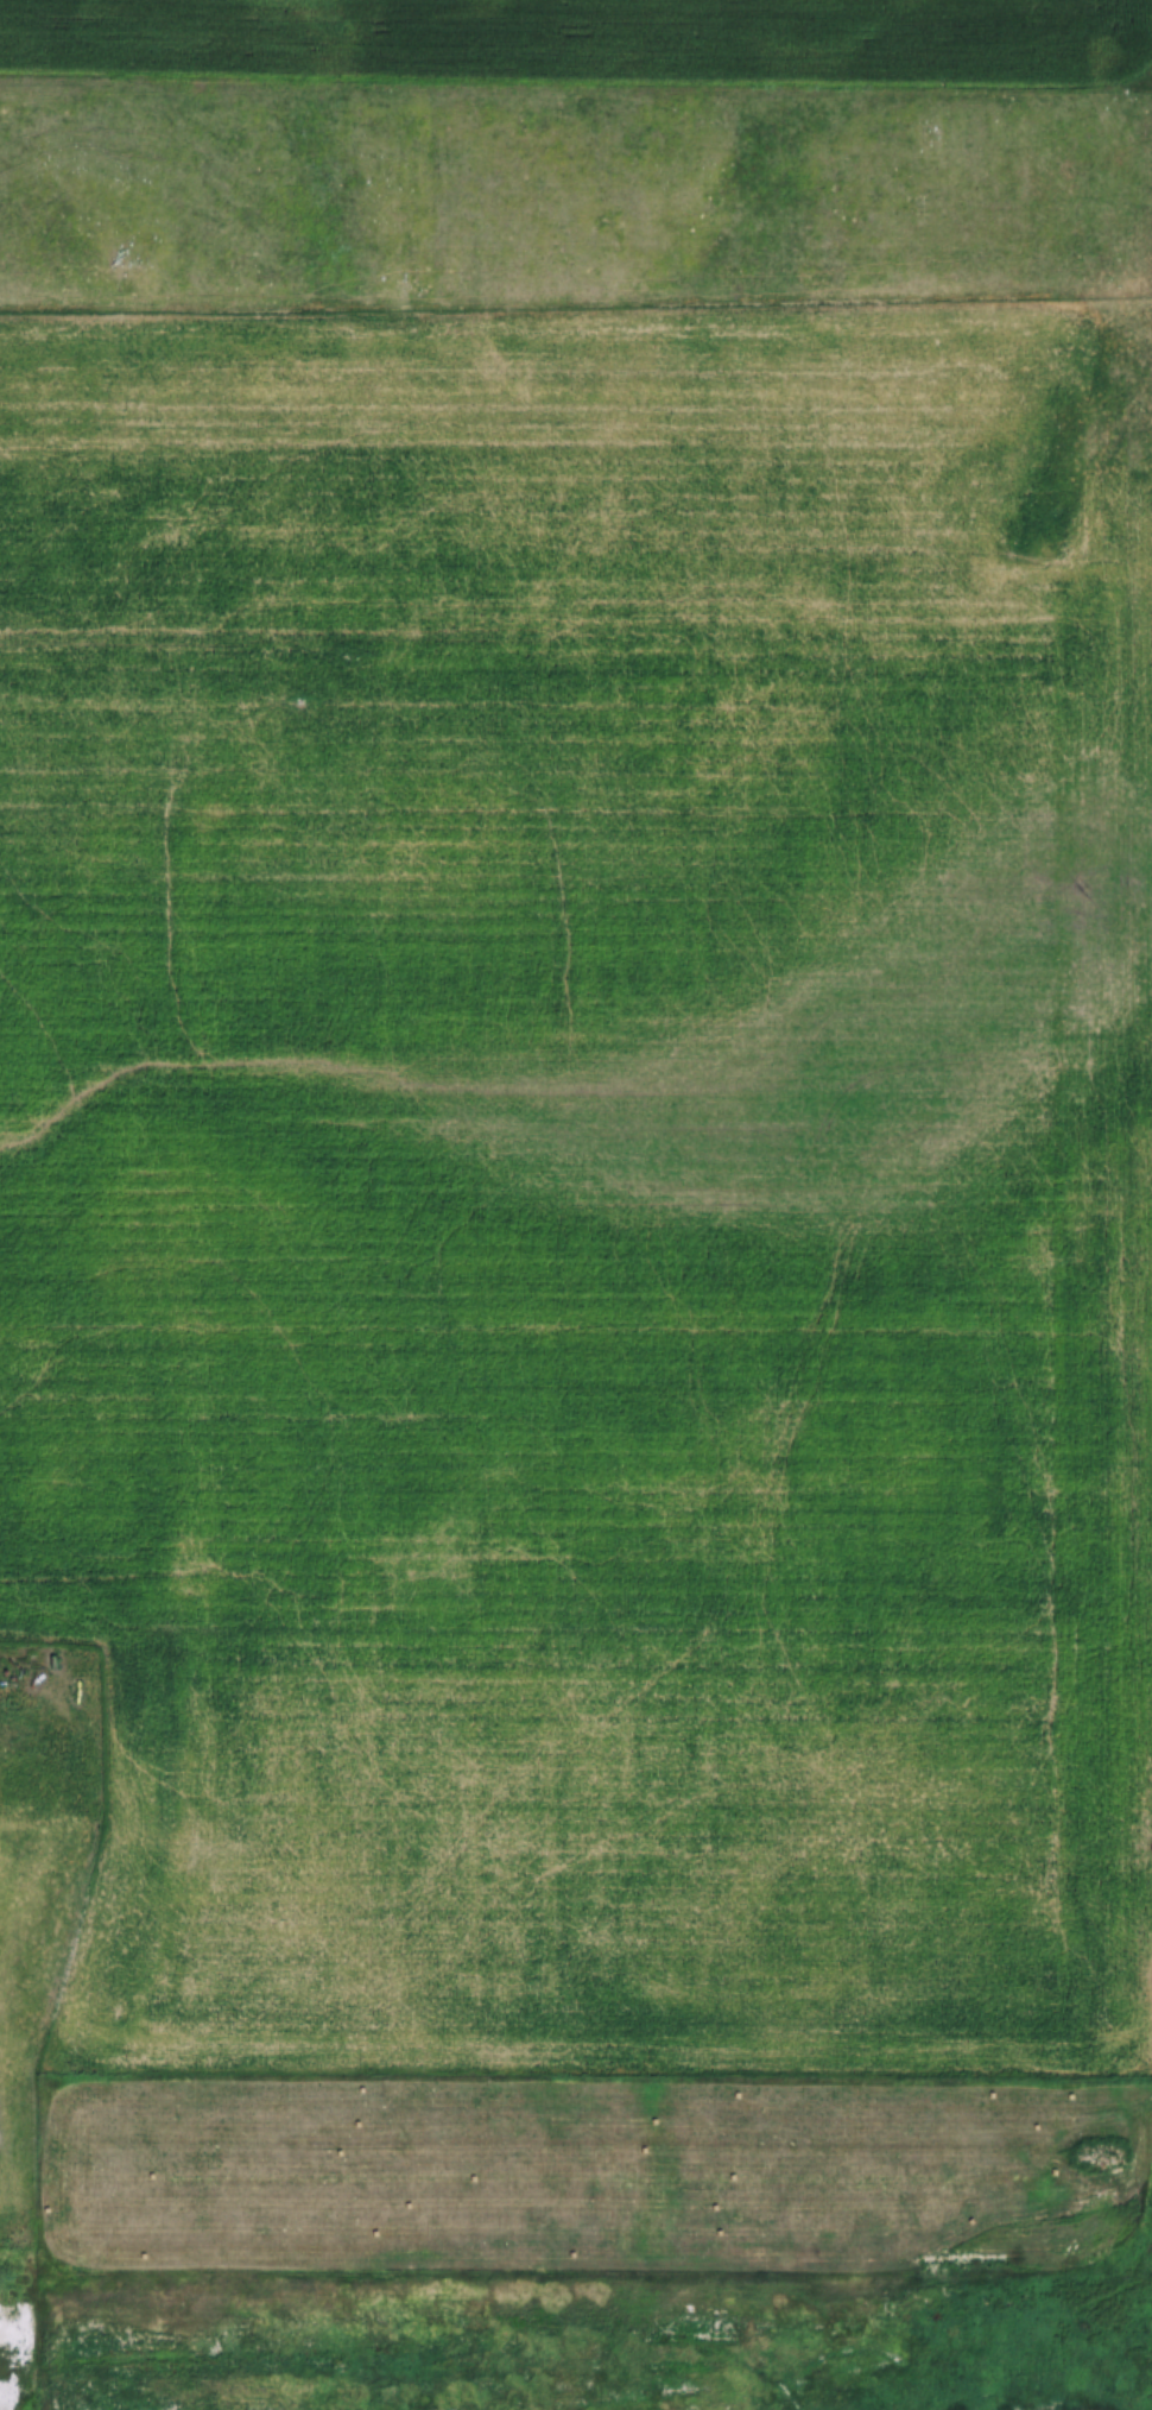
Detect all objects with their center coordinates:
crop: (582, 2172)

